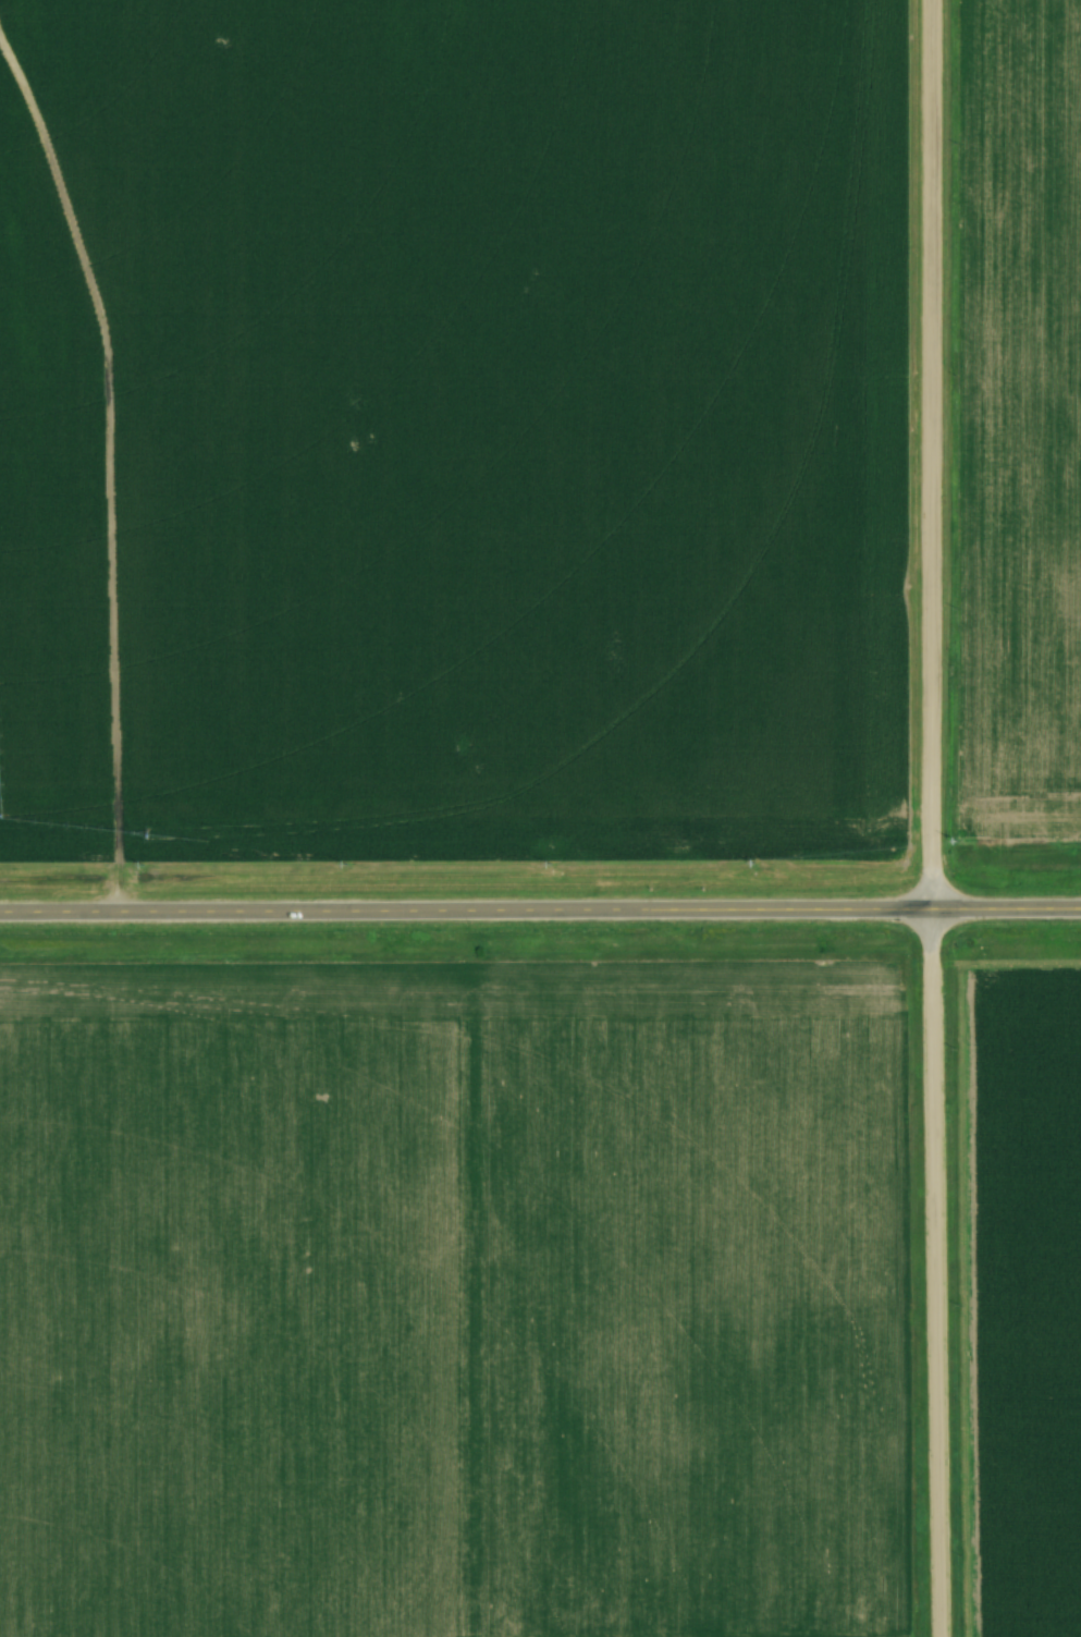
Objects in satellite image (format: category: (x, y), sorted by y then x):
road: (930, 456)
road: (540, 912)
road: (935, 1274)

